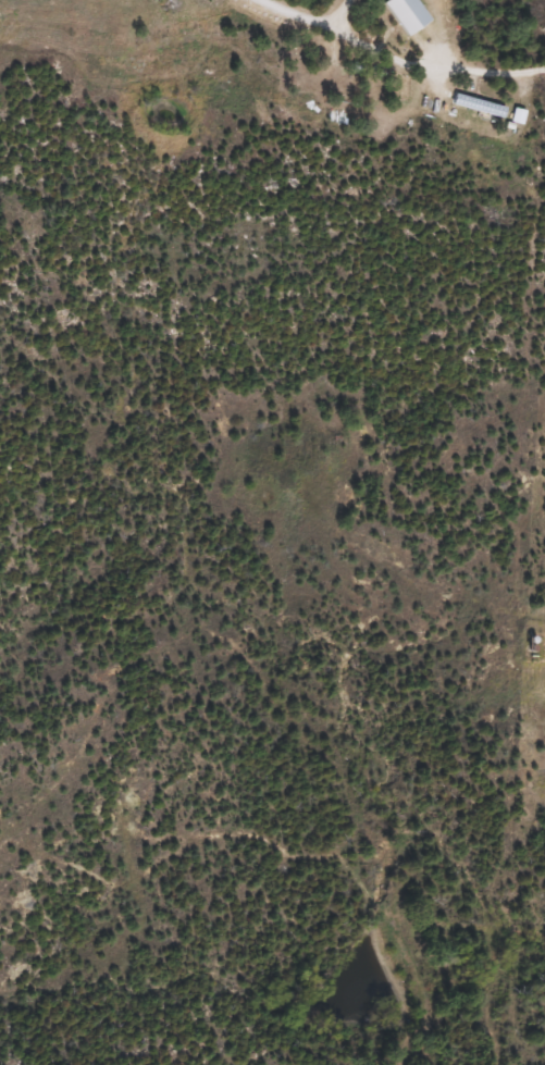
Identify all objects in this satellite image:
building: (410, 14)

